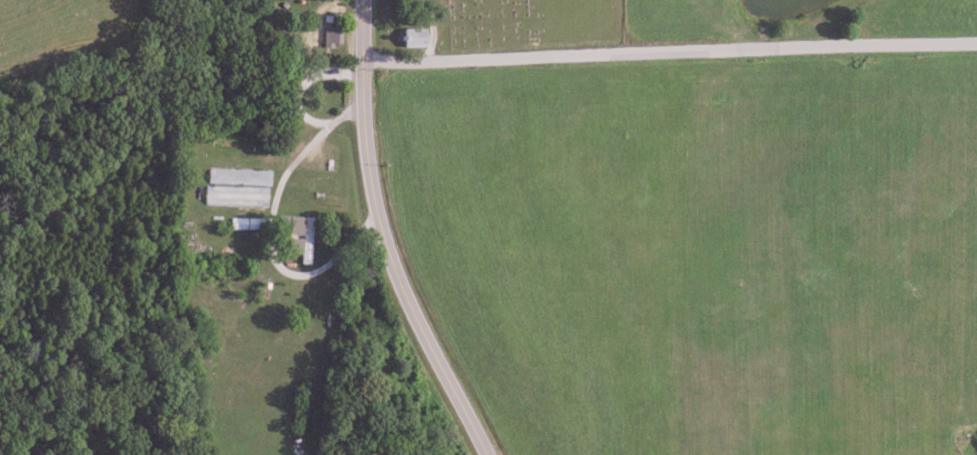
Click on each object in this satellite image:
park: (524, 24)
building: (329, 37)
building: (408, 37)
road: (668, 51)
road: (298, 85)
building: (204, 196)
road: (278, 225)
road: (383, 237)
building: (302, 241)

